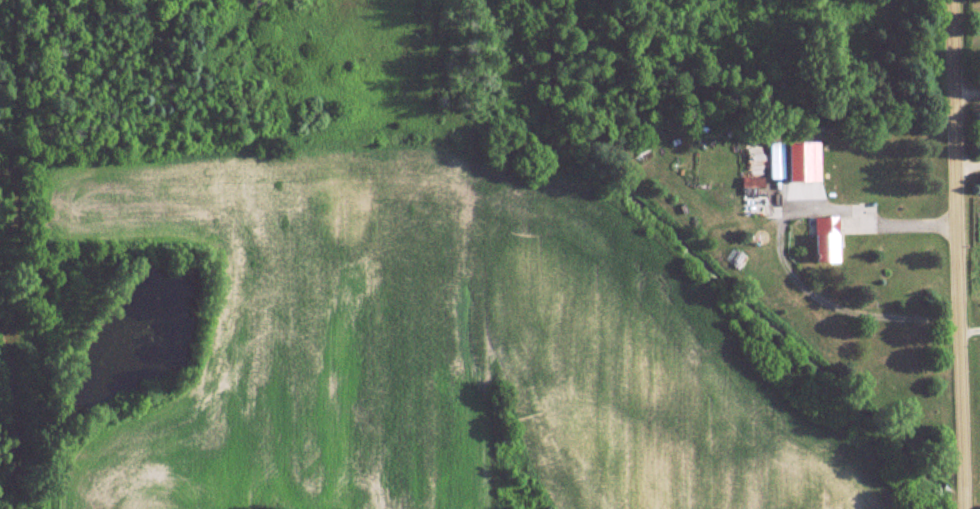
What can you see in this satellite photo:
road: (967, 84)
road: (968, 155)
building: (748, 195)
building: (819, 238)
road: (780, 244)
road: (958, 254)
road: (970, 318)
crop: (439, 349)

